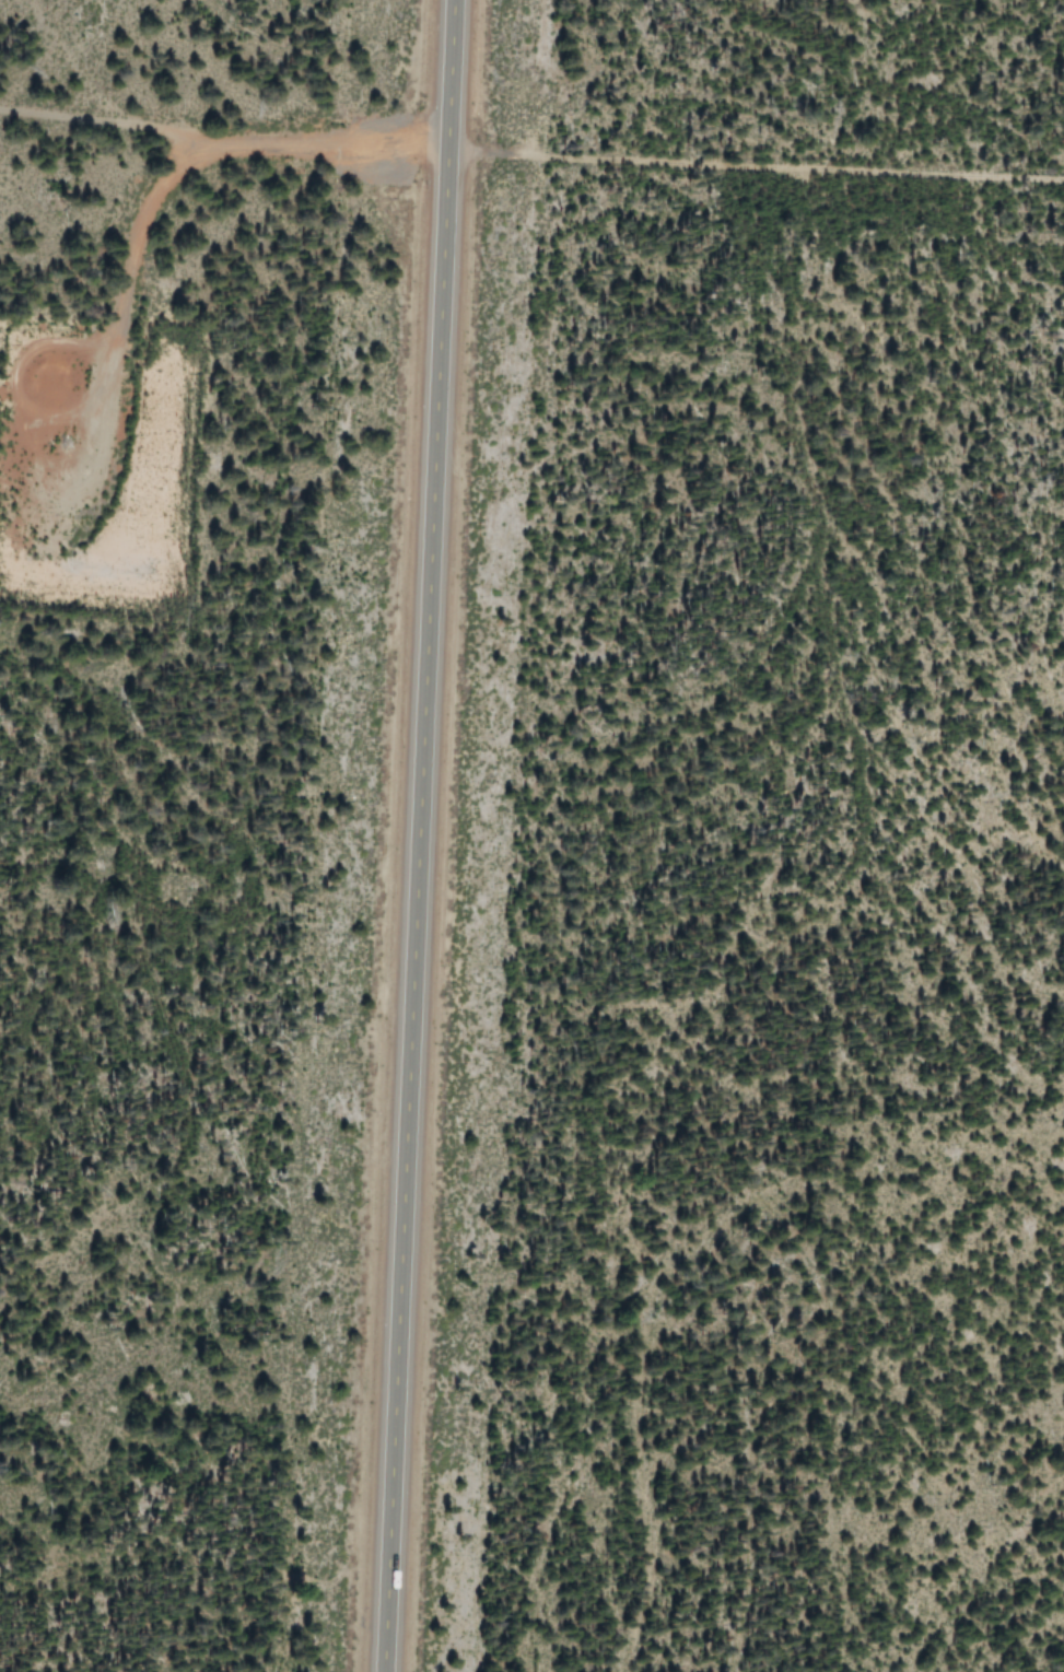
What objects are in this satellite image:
road: (221, 140)
road: (755, 163)
road: (416, 835)

